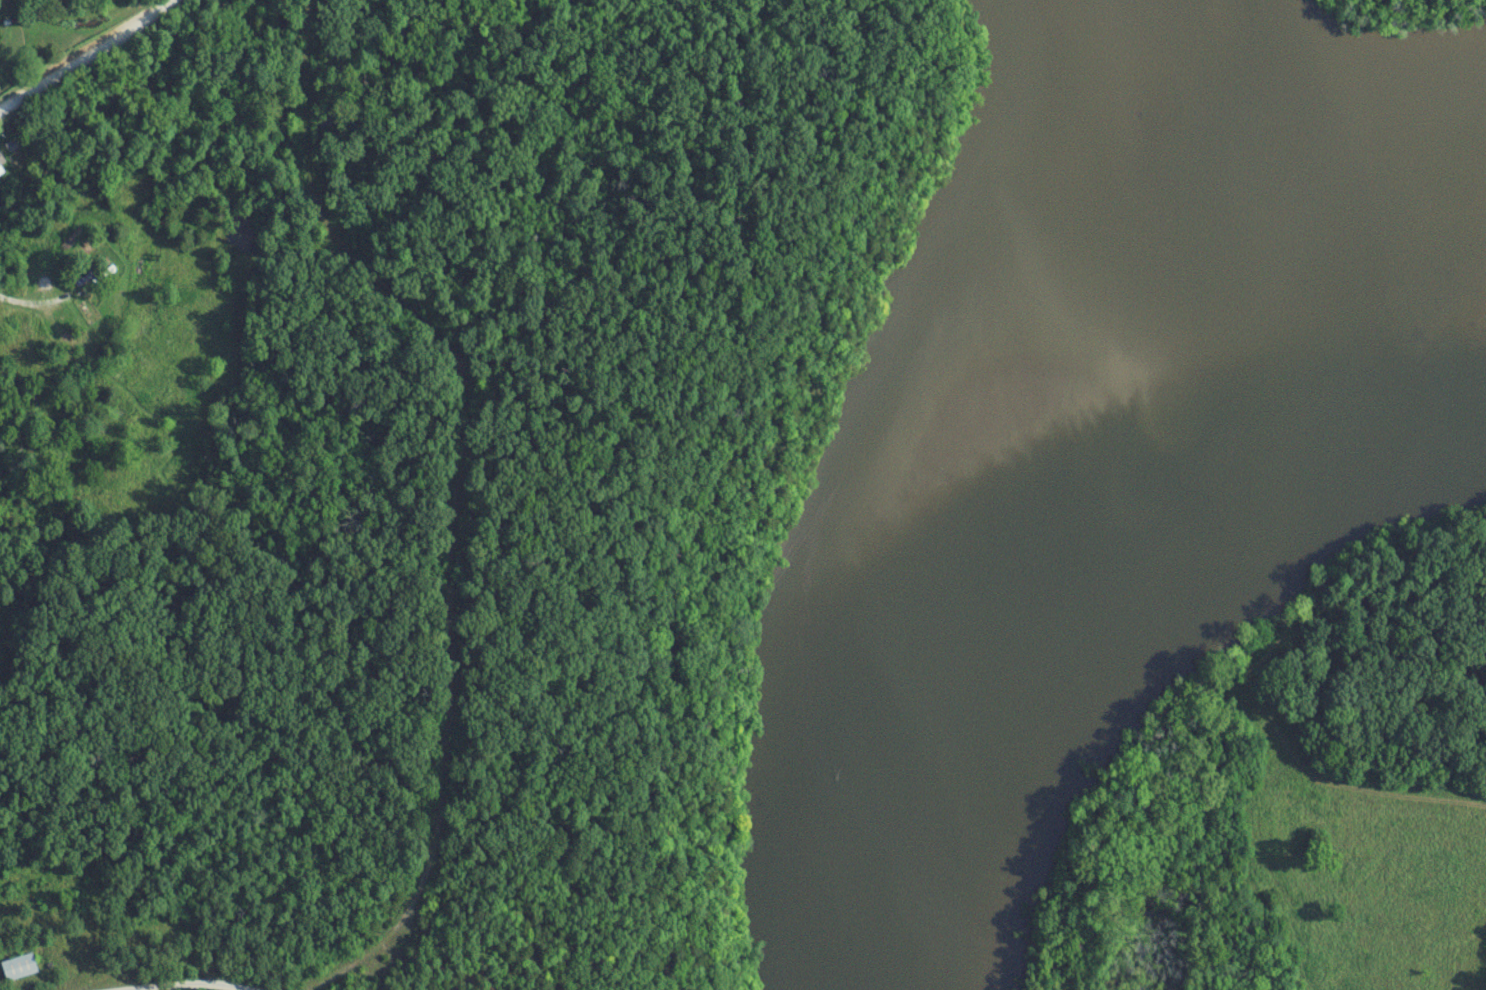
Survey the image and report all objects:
road: (82, 55)
building: (2, 161)
road: (33, 304)
road: (460, 491)
river: (1116, 642)
building: (20, 969)
road: (194, 986)

